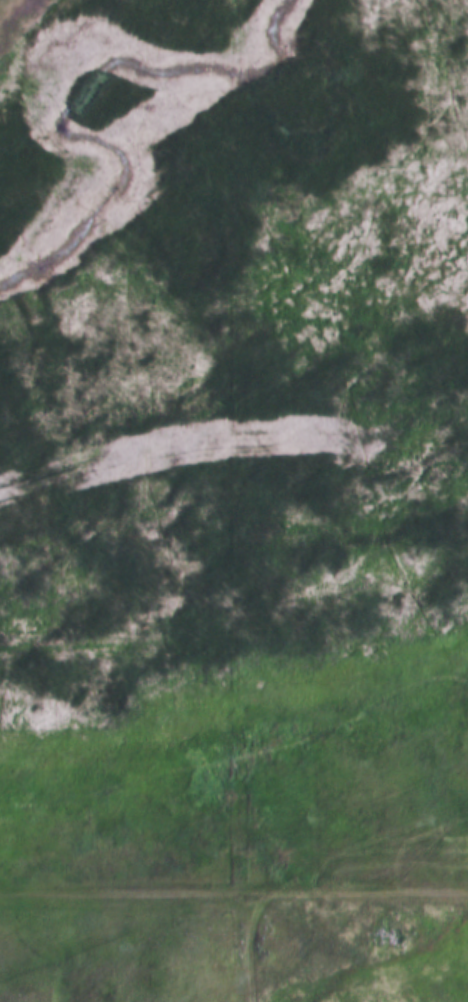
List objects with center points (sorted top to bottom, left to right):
river: (105, 104)
road: (234, 893)
road: (304, 952)

